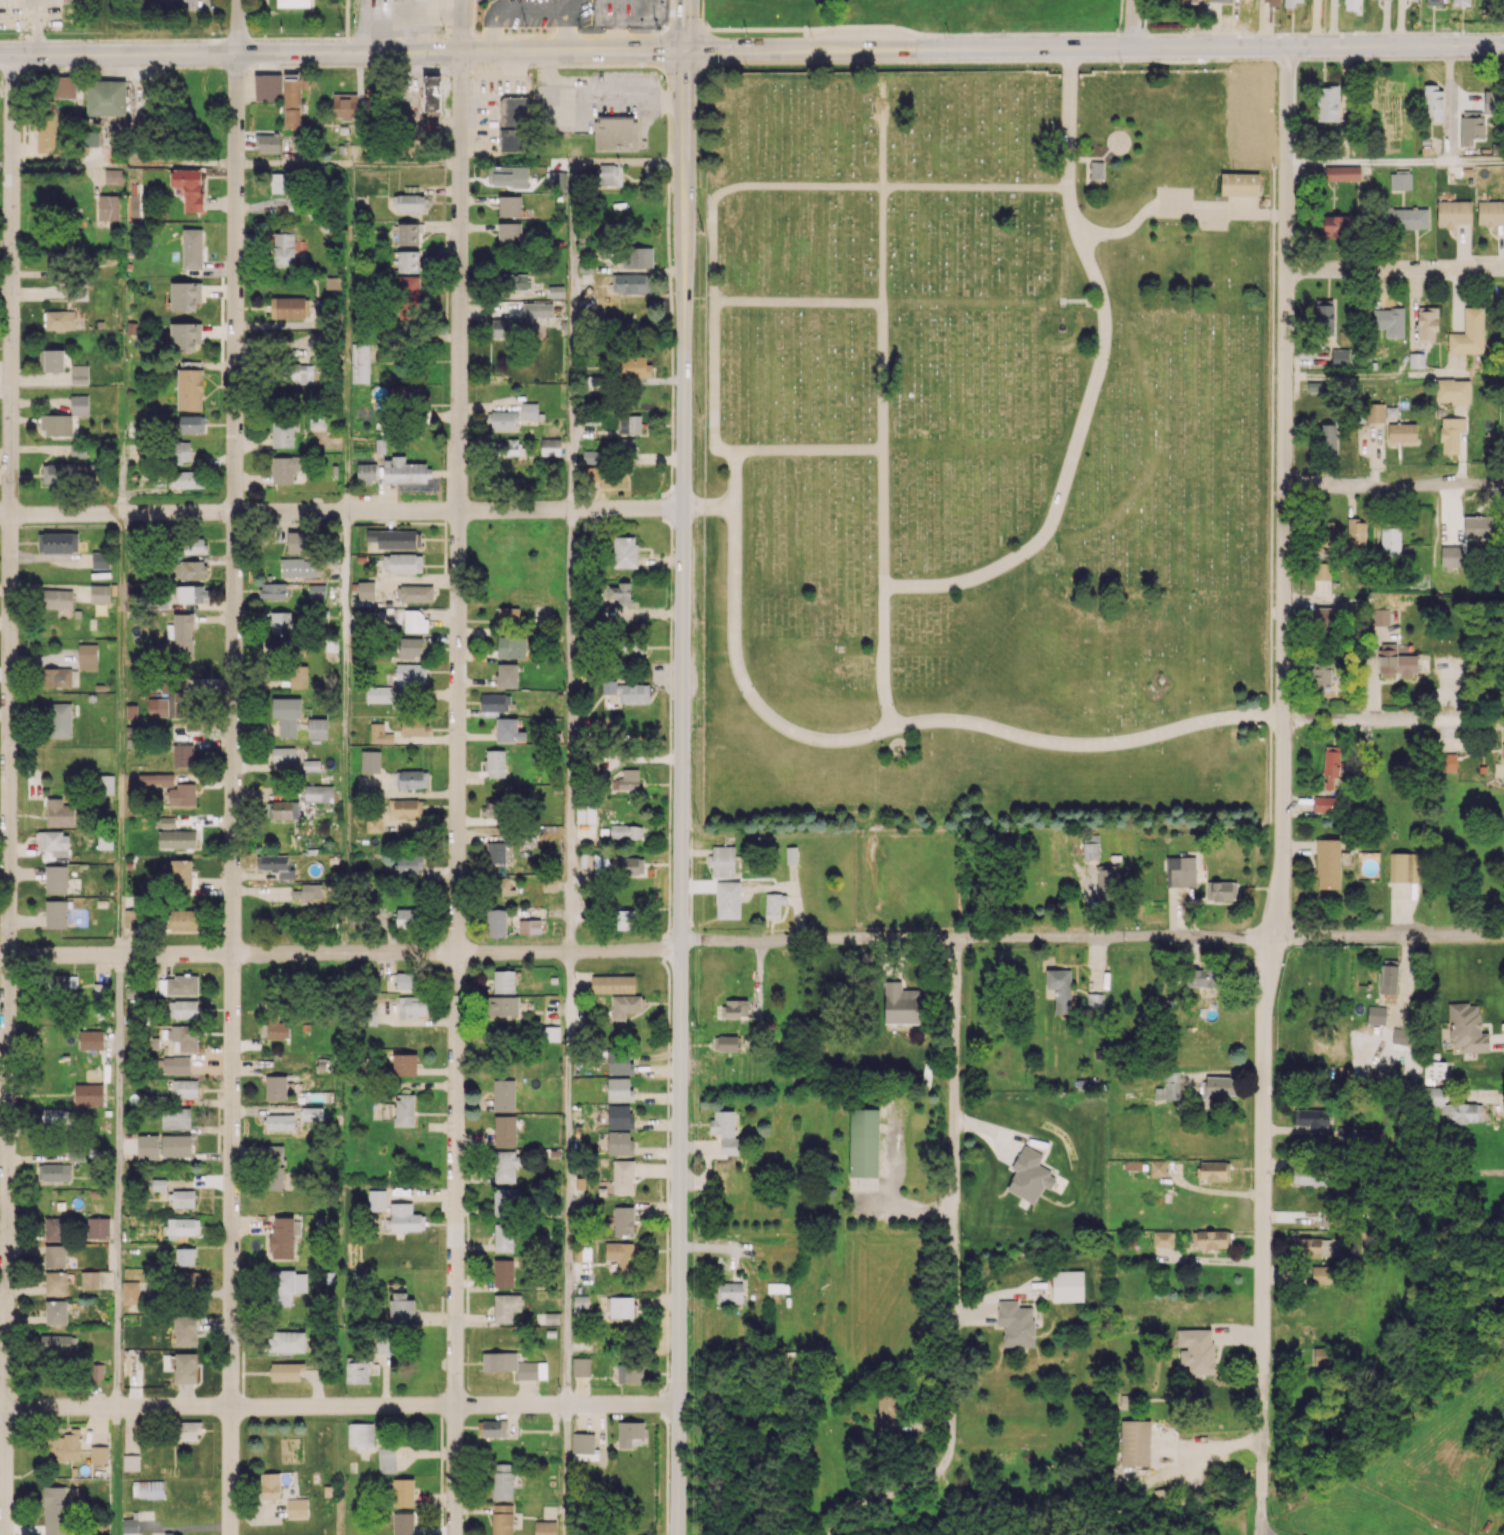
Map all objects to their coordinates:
building: (1188, 0)
building: (1221, 0)
building: (1271, 2)
building: (1291, 2)
building: (1434, 2)
building: (1461, 2)
building: (293, 3)
building: (1352, 4)
road: (531, 8)
road: (394, 10)
road: (1132, 23)
road: (461, 25)
road: (687, 25)
road: (31, 26)
road: (238, 26)
road: (751, 50)
traffic signals: (686, 51)
building: (64, 87)
building: (267, 87)
road: (600, 88)
building: (431, 93)
building: (107, 97)
building: (1249, 102)
building: (1433, 102)
building: (291, 103)
building: (1327, 103)
building: (1491, 103)
road: (1450, 104)
building: (344, 106)
building: (513, 110)
road: (1068, 117)
building: (1471, 126)
building: (615, 133)
building: (45, 134)
building: (90, 138)
building: (512, 140)
building: (269, 142)
building: (1258, 151)
road: (1395, 161)
road: (404, 162)
road: (292, 163)
road: (123, 165)
road: (5, 166)
building: (1097, 171)
building: (1342, 173)
building: (610, 174)
building: (114, 175)
building: (507, 176)
building: (556, 180)
building: (1400, 181)
building: (278, 182)
building: (1240, 185)
building: (189, 187)
building: (409, 202)
building: (509, 206)
building: (108, 207)
road: (1179, 210)
building: (1454, 212)
building: (1490, 212)
road: (1071, 213)
building: (1404, 218)
building: (1334, 226)
road: (713, 228)
building: (509, 232)
building: (408, 234)
building: (192, 248)
building: (283, 249)
building: (637, 257)
building: (405, 261)
road: (1395, 268)
building: (586, 278)
road: (573, 280)
building: (515, 281)
building: (630, 283)
building: (76, 290)
building: (555, 291)
building: (185, 295)
building: (407, 299)
road: (798, 301)
building: (289, 307)
building: (536, 309)
building: (1323, 316)
building: (59, 319)
building: (1388, 321)
building: (1426, 323)
building: (497, 329)
building: (1468, 333)
building: (185, 336)
road: (347, 337)
building: (1339, 356)
building: (51, 359)
building: (1416, 360)
building: (360, 363)
building: (634, 367)
building: (297, 373)
building: (79, 374)
road: (1378, 375)
building: (189, 389)
building: (1452, 391)
building: (406, 392)
building: (508, 403)
building: (79, 404)
road: (882, 406)
building: (530, 410)
building: (1375, 412)
building: (503, 420)
building: (192, 423)
building: (56, 424)
building: (629, 424)
building: (1401, 432)
building: (282, 434)
building: (1451, 434)
building: (1327, 436)
building: (550, 446)
building: (626, 446)
building: (509, 448)
building: (78, 450)
building: (180, 451)
park: (983, 454)
building: (591, 456)
building: (285, 468)
building: (403, 471)
building: (366, 472)
road: (1067, 472)
building: (61, 473)
building: (601, 476)
road: (734, 478)
building: (189, 479)
road: (1394, 485)
road: (707, 506)
road: (341, 511)
building: (1478, 527)
building: (1356, 531)
building: (395, 538)
building: (1390, 541)
building: (57, 542)
building: (298, 542)
building: (192, 545)
building: (624, 551)
building: (1453, 556)
building: (100, 560)
building: (402, 563)
building: (298, 567)
building: (189, 569)
building: (1322, 571)
building: (273, 590)
building: (317, 590)
building: (366, 590)
building: (621, 592)
building: (99, 593)
building: (193, 593)
building: (414, 593)
building: (57, 598)
building: (508, 614)
building: (1380, 616)
building: (1322, 617)
building: (414, 621)
building: (280, 622)
building: (181, 635)
building: (410, 647)
building: (511, 647)
building: (634, 647)
building: (87, 656)
building: (1395, 662)
building: (410, 673)
building: (506, 675)
building: (1319, 675)
building: (298, 676)
building: (57, 677)
road: (742, 680)
building: (633, 693)
building: (378, 694)
building: (494, 702)
building: (168, 706)
building: (131, 712)
building: (286, 714)
road: (1393, 718)
building: (59, 720)
building: (414, 727)
building: (317, 728)
road: (343, 730)
building: (508, 730)
road: (570, 730)
building: (381, 732)
road: (120, 733)
road: (1087, 745)
building: (182, 754)
building: (283, 757)
building: (370, 761)
building: (1447, 762)
building: (495, 763)
building: (310, 765)
building: (1331, 767)
building: (412, 779)
building: (155, 780)
building: (626, 780)
building: (105, 784)
road: (1282, 791)
road: (232, 793)
building: (318, 793)
road: (456, 793)
road: (681, 793)
building: (182, 794)
road: (8, 795)
building: (1327, 804)
building: (404, 808)
building: (492, 808)
building: (285, 809)
building: (585, 812)
building: (60, 813)
building: (373, 822)
building: (626, 831)
building: (177, 839)
building: (54, 842)
building: (1090, 847)
building: (495, 852)
building: (791, 855)
building: (722, 861)
building: (1328, 863)
building: (409, 864)
building: (277, 865)
building: (631, 866)
building: (1405, 867)
building: (1180, 871)
building: (180, 875)
building: (56, 879)
building: (1106, 879)
building: (504, 886)
building: (549, 886)
building: (1224, 891)
building: (308, 892)
building: (728, 900)
building: (774, 905)
building: (56, 914)
building: (407, 918)
building: (625, 919)
building: (183, 920)
building: (496, 923)
building: (529, 926)
road: (1092, 936)
road: (340, 950)
building: (1200, 977)
building: (1388, 977)
building: (406, 980)
building: (504, 981)
building: (60, 983)
building: (612, 984)
building: (179, 985)
building: (1059, 988)
building: (101, 992)
building: (902, 1004)
building: (412, 1006)
building: (625, 1006)
building: (502, 1007)
building: (734, 1008)
building: (182, 1009)
building: (1376, 1015)
building: (274, 1027)
building: (1466, 1027)
building: (551, 1033)
building: (1399, 1036)
building: (181, 1037)
building: (90, 1039)
building: (726, 1043)
building: (620, 1062)
building: (404, 1064)
building: (176, 1065)
building: (1434, 1069)
building: (276, 1084)
building: (1218, 1086)
building: (1168, 1087)
building: (184, 1088)
building: (619, 1090)
building: (88, 1094)
building: (503, 1095)
road: (1482, 1096)
building: (1452, 1106)
building: (404, 1110)
building: (55, 1116)
building: (619, 1116)
building: (176, 1118)
building: (1311, 1118)
building: (280, 1122)
building: (505, 1131)
building: (726, 1133)
building: (1366, 1135)
building: (620, 1142)
building: (863, 1142)
building: (176, 1145)
building: (147, 1146)
building: (274, 1152)
building: (506, 1165)
building: (1157, 1167)
building: (1214, 1170)
building: (54, 1171)
building: (1308, 1174)
building: (1029, 1175)
road: (568, 1177)
building: (623, 1177)
building: (273, 1178)
road: (117, 1180)
road: (954, 1196)
building: (182, 1198)
building: (376, 1200)
building: (506, 1200)
building: (1325, 1214)
building: (405, 1218)
building: (623, 1220)
building: (97, 1227)
building: (182, 1227)
building: (54, 1228)
building: (282, 1237)
building: (503, 1237)
building: (1163, 1238)
building: (1210, 1239)
building: (621, 1253)
building: (54, 1256)
building: (185, 1256)
building: (1327, 1261)
building: (503, 1273)
building: (89, 1279)
building: (189, 1281)
building: (56, 1283)
building: (1067, 1285)
building: (285, 1286)
building: (777, 1287)
building: (130, 1292)
building: (729, 1292)
building: (621, 1306)
building: (506, 1307)
building: (401, 1309)
building: (56, 1312)
building: (552, 1318)
building: (1016, 1323)
building: (185, 1330)
building: (287, 1341)
building: (58, 1344)
building: (1196, 1349)
building: (1320, 1355)
building: (513, 1365)
building: (581, 1366)
building: (185, 1367)
building: (286, 1371)
building: (356, 1372)
building: (629, 1373)
road: (338, 1405)
building: (888, 1413)
building: (491, 1428)
building: (188, 1430)
building: (630, 1433)
building: (360, 1435)
building: (1135, 1442)
building: (64, 1446)
building: (584, 1447)
building: (99, 1454)
building: (386, 1460)
building: (130, 1462)
road: (565, 1469)
road: (116, 1471)
building: (502, 1481)
building: (270, 1486)
building: (147, 1489)
building: (403, 1492)
building: (297, 1508)
building: (54, 1510)
building: (502, 1519)
building: (403, 1523)
building: (130, 1525)
building: (545, 1527)
road: (1269, 1532)
building: (174, 1534)

